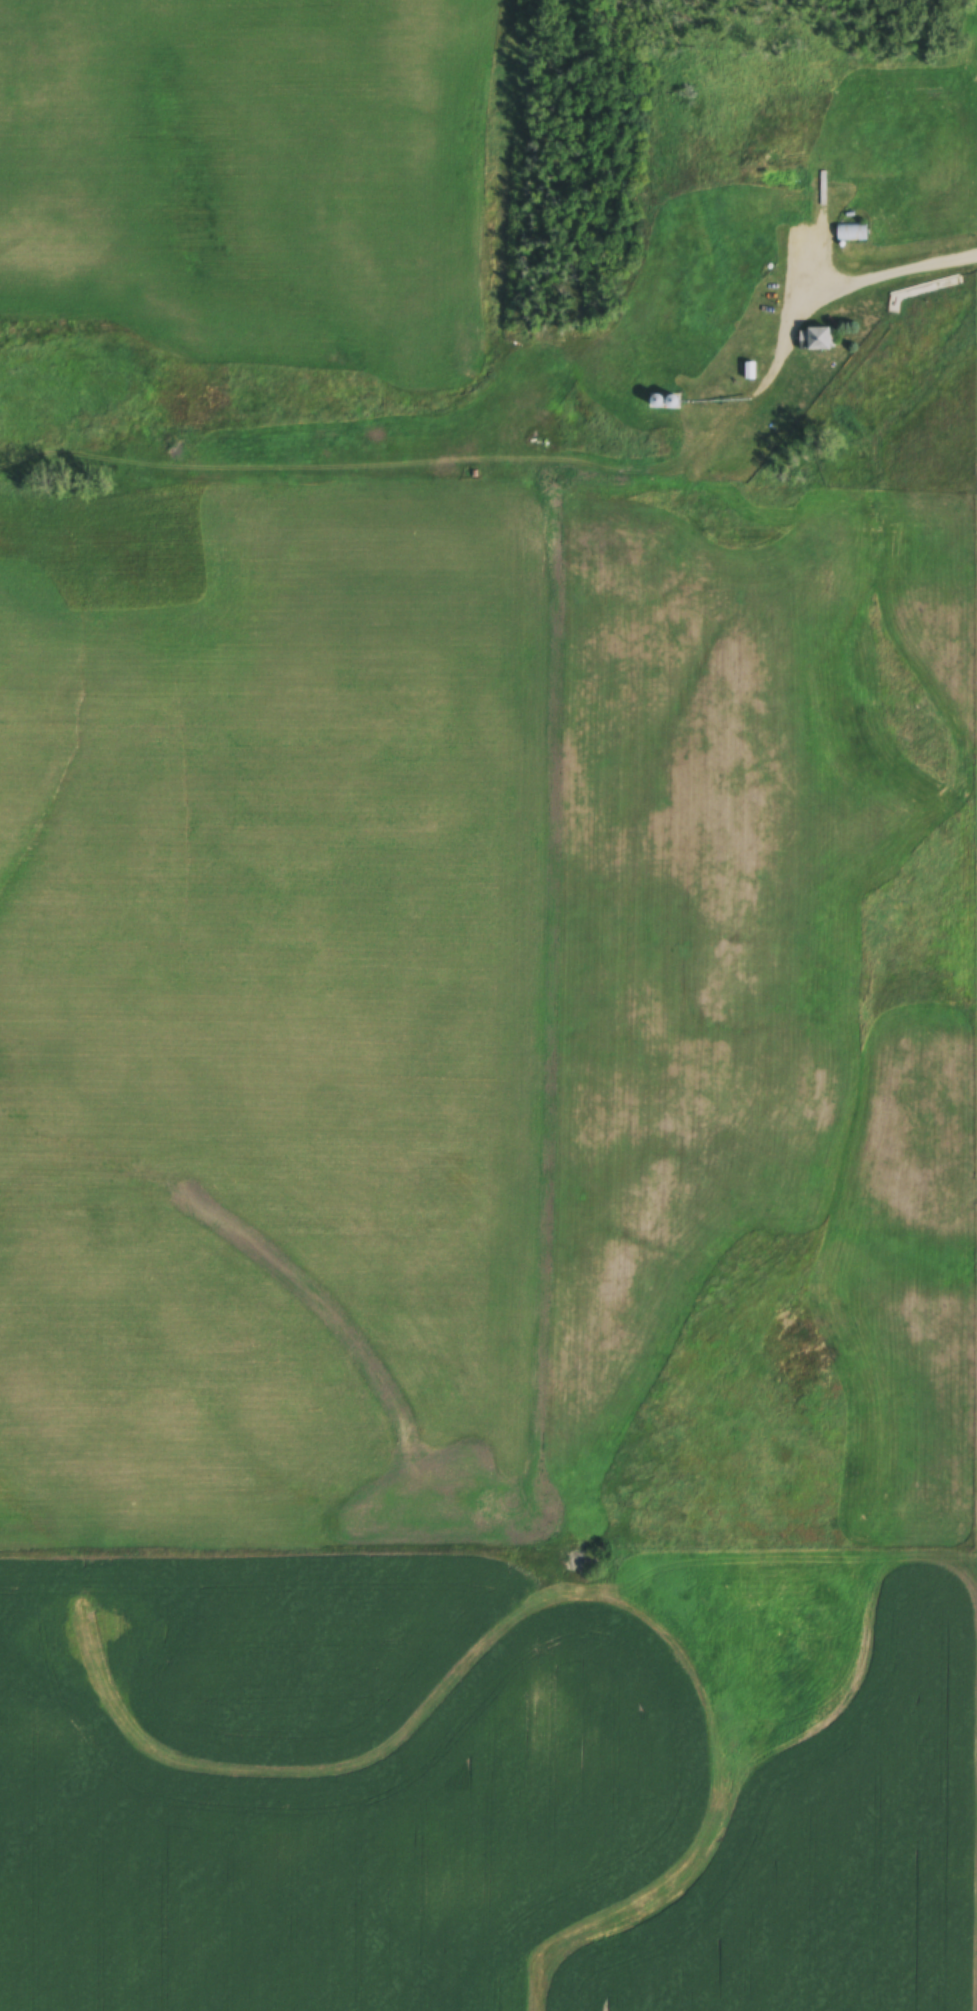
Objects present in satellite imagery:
building: (793, 210)
building: (878, 233)
building: (851, 234)
road: (885, 267)
building: (816, 341)

